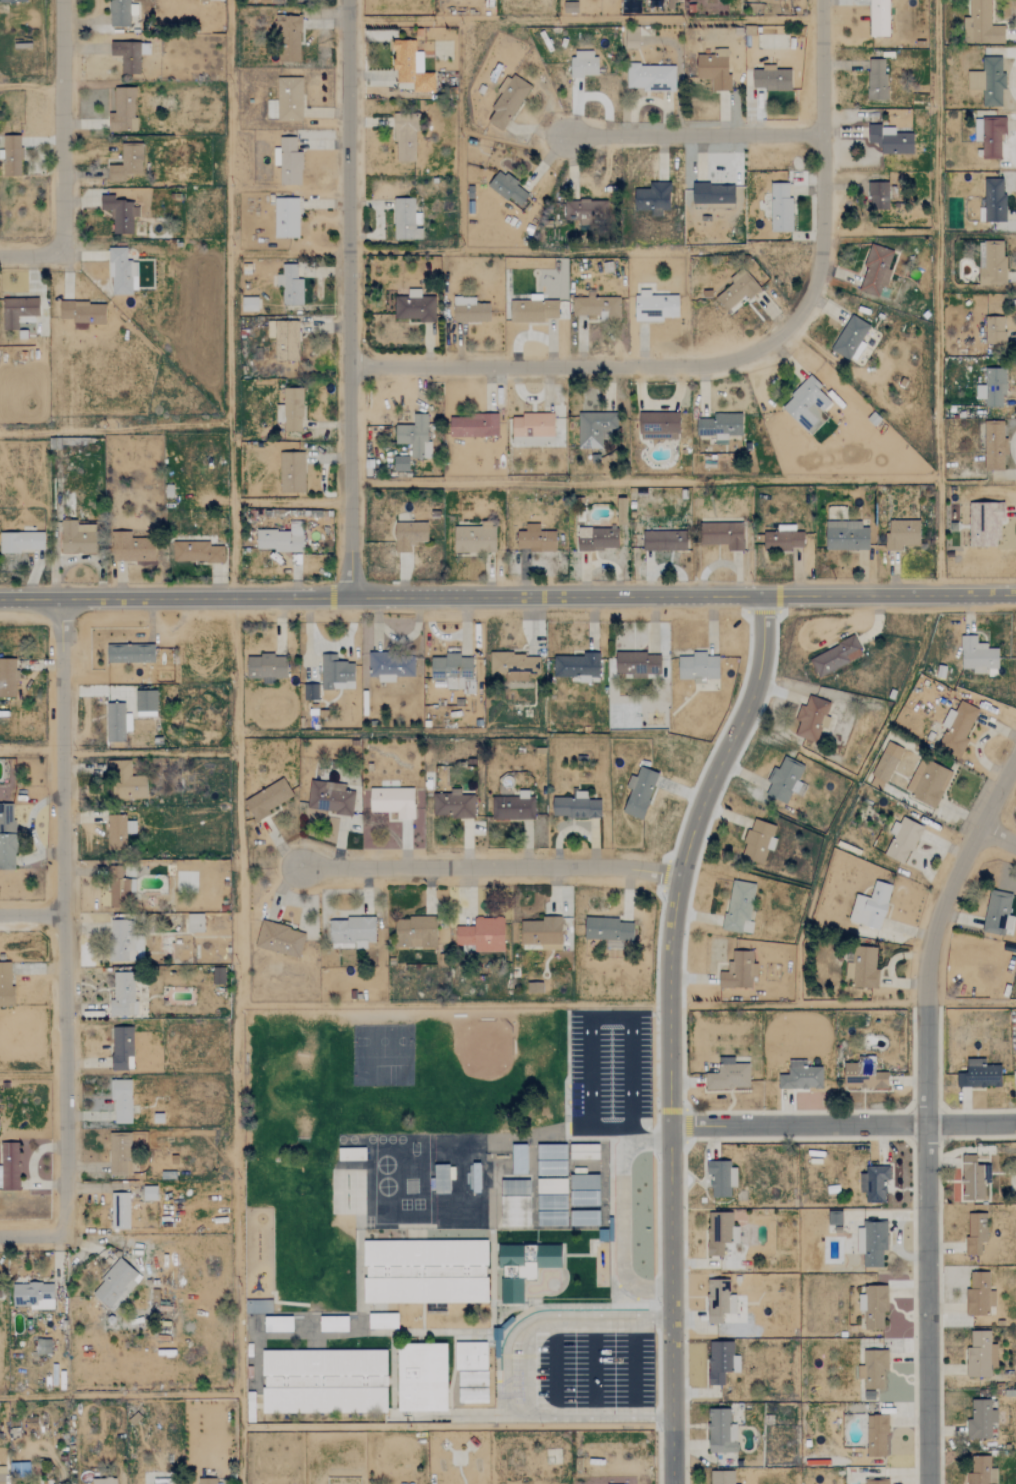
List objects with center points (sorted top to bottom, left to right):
building: (13, 1)
building: (570, 7)
building: (121, 12)
building: (879, 18)
building: (984, 24)
building: (289, 38)
building: (631, 39)
building: (129, 55)
building: (584, 64)
building: (411, 66)
building: (714, 70)
building: (650, 78)
building: (771, 79)
building: (876, 79)
building: (992, 82)
road: (31, 88)
building: (289, 99)
building: (507, 103)
building: (122, 110)
road: (62, 129)
road: (693, 135)
building: (405, 136)
building: (992, 138)
building: (890, 140)
building: (11, 155)
building: (289, 162)
building: (127, 163)
building: (713, 194)
building: (878, 196)
building: (653, 199)
building: (993, 201)
building: (780, 208)
road: (228, 211)
building: (584, 211)
building: (120, 214)
building: (286, 217)
building: (406, 220)
road: (938, 239)
road: (31, 258)
building: (993, 265)
building: (876, 269)
building: (121, 272)
building: (290, 285)
building: (736, 291)
road: (348, 297)
building: (249, 304)
building: (655, 306)
building: (413, 307)
building: (596, 307)
building: (469, 310)
building: (532, 310)
building: (17, 311)
building: (83, 313)
building: (994, 331)
building: (851, 339)
building: (284, 340)
road: (739, 356)
building: (992, 387)
building: (807, 406)
building: (290, 410)
road: (200, 424)
building: (473, 426)
building: (659, 426)
building: (720, 427)
building: (595, 429)
building: (532, 430)
building: (415, 436)
building: (994, 447)
building: (400, 464)
building: (292, 472)
road: (702, 481)
building: (621, 512)
building: (985, 525)
building: (902, 534)
building: (722, 535)
building: (409, 536)
building: (846, 536)
building: (77, 538)
building: (535, 539)
building: (597, 539)
building: (783, 539)
building: (278, 540)
building: (474, 540)
building: (664, 541)
building: (21, 542)
building: (131, 548)
building: (196, 552)
road: (507, 595)
road: (775, 612)
building: (130, 654)
building: (977, 655)
building: (835, 657)
building: (576, 665)
building: (513, 666)
building: (266, 667)
building: (390, 667)
building: (698, 667)
building: (453, 671)
building: (336, 673)
building: (7, 678)
building: (310, 692)
building: (145, 703)
building: (812, 719)
building: (116, 723)
building: (957, 729)
road: (717, 737)
road: (33, 750)
building: (884, 766)
building: (785, 780)
building: (125, 781)
building: (928, 783)
building: (639, 793)
building: (329, 798)
building: (267, 800)
building: (392, 802)
building: (453, 805)
building: (513, 807)
building: (576, 807)
building: (116, 833)
building: (7, 837)
road: (997, 837)
building: (903, 841)
building: (758, 842)
road: (698, 854)
road: (490, 865)
road: (664, 875)
building: (120, 892)
building: (871, 906)
building: (739, 907)
building: (998, 913)
road: (36, 914)
road: (73, 917)
building: (195, 922)
building: (607, 929)
building: (352, 932)
building: (415, 932)
building: (542, 932)
building: (482, 934)
building: (279, 939)
building: (125, 941)
building: (728, 950)
building: (861, 967)
building: (739, 971)
building: (218, 975)
building: (5, 984)
building: (534, 987)
building: (123, 994)
road: (655, 1000)
road: (607, 1019)
road: (670, 1031)
building: (122, 1048)
building: (864, 1074)
building: (979, 1074)
building: (728, 1075)
building: (800, 1076)
building: (121, 1101)
road: (924, 1108)
road: (236, 1110)
road: (797, 1111)
road: (939, 1111)
road: (686, 1112)
road: (843, 1125)
road: (630, 1132)
road: (797, 1138)
building: (584, 1151)
building: (120, 1153)
building: (519, 1158)
building: (551, 1159)
building: (11, 1164)
building: (973, 1177)
building: (721, 1178)
building: (441, 1180)
building: (584, 1182)
building: (874, 1183)
building: (551, 1185)
building: (149, 1193)
building: (584, 1198)
building: (518, 1202)
building: (551, 1202)
building: (120, 1211)
building: (584, 1217)
building: (553, 1218)
building: (834, 1218)
road: (620, 1232)
building: (720, 1233)
building: (976, 1233)
road: (39, 1237)
building: (874, 1243)
building: (548, 1256)
building: (425, 1271)
building: (513, 1272)
building: (528, 1272)
building: (115, 1284)
building: (0, 1289)
building: (32, 1295)
building: (979, 1295)
building: (719, 1301)
building: (258, 1306)
building: (873, 1307)
building: (382, 1320)
building: (278, 1324)
building: (333, 1324)
road: (584, 1324)
building: (42, 1346)
building: (980, 1355)
building: (470, 1356)
building: (721, 1361)
building: (873, 1369)
road: (505, 1370)
road: (554, 1371)
road: (593, 1371)
road: (633, 1371)
road: (527, 1372)
building: (421, 1377)
building: (472, 1379)
building: (324, 1381)
building: (473, 1395)
road: (532, 1411)
building: (981, 1419)
building: (721, 1431)
building: (876, 1436)
building: (982, 1476)
building: (721, 1477)
building: (2, 1479)
building: (103, 1481)
building: (206, 1481)
building: (876, 1481)
building: (173, 1483)

